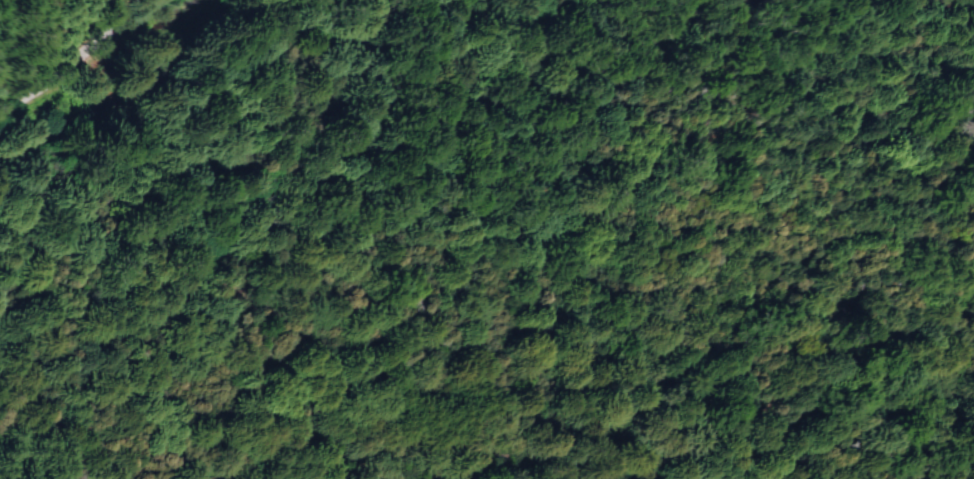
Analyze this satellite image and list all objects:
road: (92, 72)

